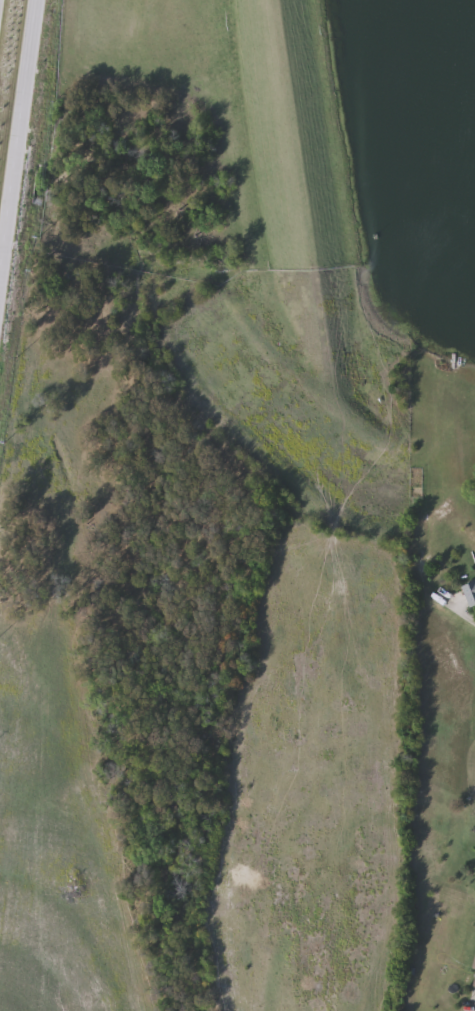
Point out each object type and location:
road: (15, 116)
building: (470, 593)
building: (473, 979)

